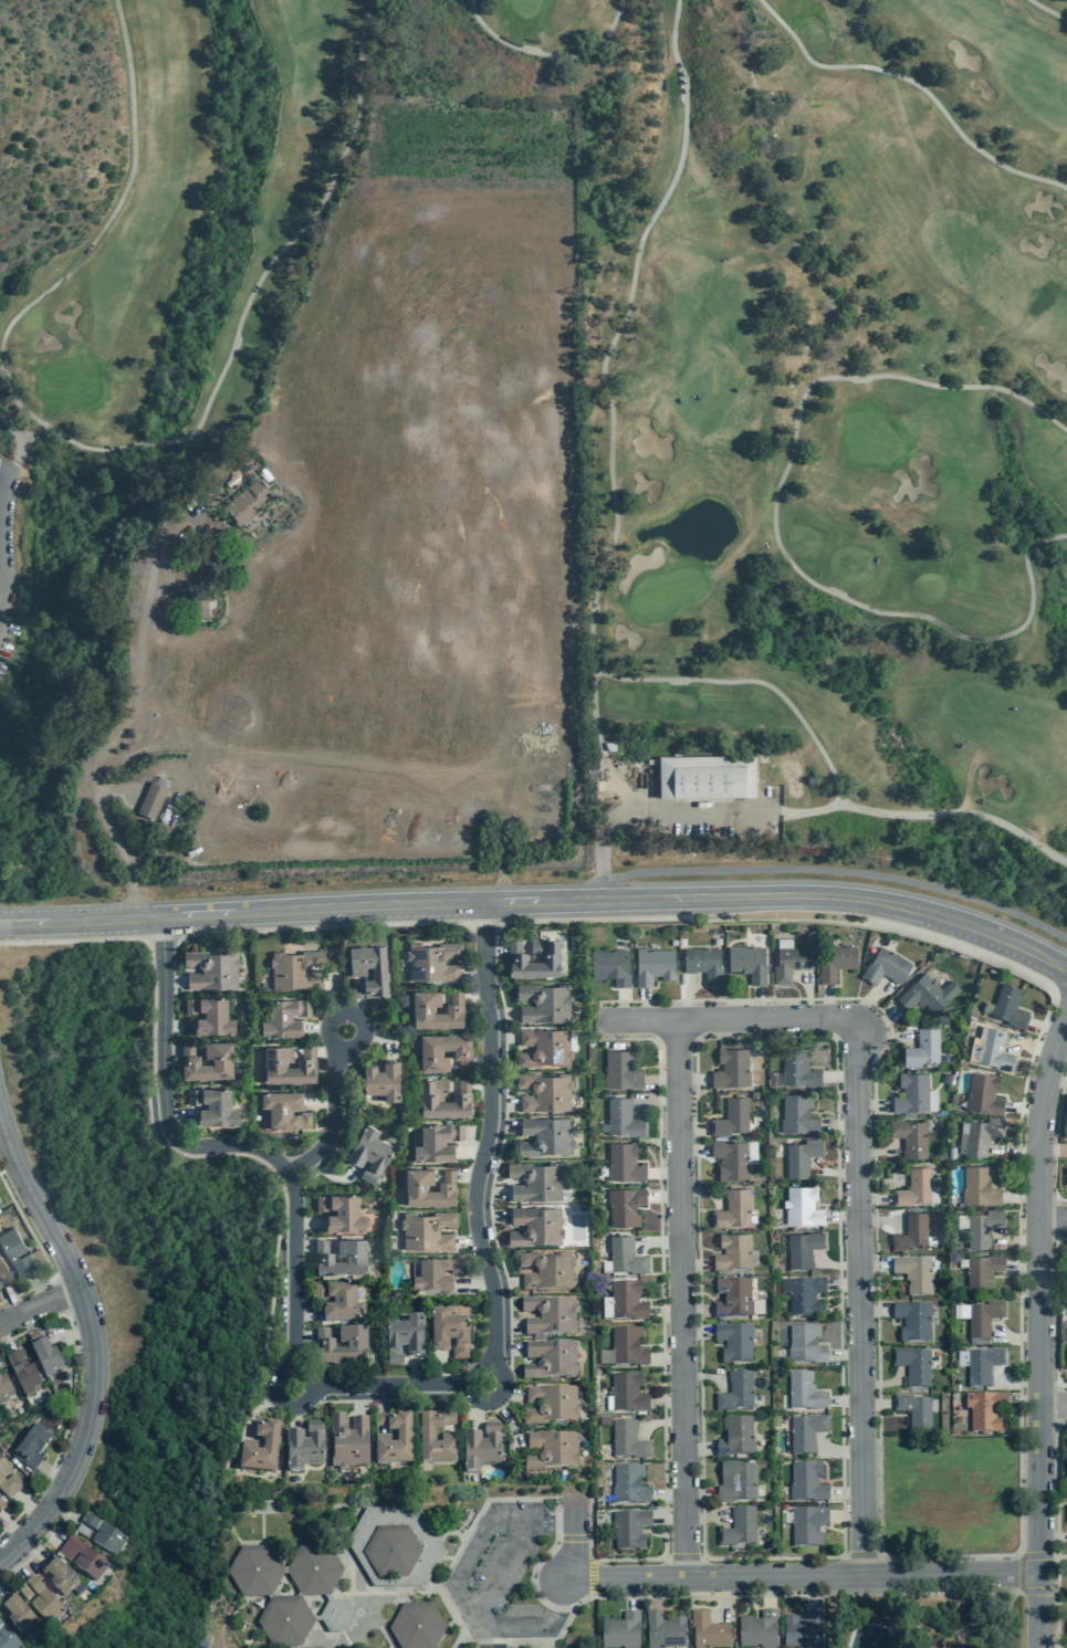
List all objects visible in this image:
road: (1047, 10)
road: (747, 50)
road: (553, 53)
road: (919, 81)
road: (22, 442)
park: (553, 450)
road: (115, 452)
road: (4, 459)
road: (12, 463)
road: (3, 472)
building: (248, 502)
road: (774, 524)
road: (1, 533)
road: (599, 597)
building: (199, 603)
building: (708, 777)
road: (624, 787)
building: (151, 800)
road: (681, 812)
road: (840, 872)
road: (540, 903)
road: (483, 922)
road: (322, 928)
road: (161, 941)
road: (505, 947)
building: (547, 957)
building: (432, 962)
building: (835, 962)
building: (749, 963)
building: (791, 963)
building: (704, 964)
building: (653, 965)
building: (611, 966)
building: (886, 967)
building: (211, 969)
building: (295, 969)
building: (357, 970)
road: (473, 970)
road: (174, 982)
road: (1059, 985)
road: (808, 991)
road: (1054, 991)
building: (928, 994)
road: (687, 995)
road: (336, 996)
road: (358, 998)
road: (464, 998)
road: (868, 999)
building: (545, 1003)
road: (827, 1003)
road: (759, 1004)
road: (624, 1005)
road: (645, 1005)
building: (1010, 1007)
building: (422, 1009)
road: (502, 1015)
building: (210, 1016)
building: (284, 1018)
road: (879, 1018)
road: (735, 1019)
road: (600, 1020)
road: (604, 1020)
road: (175, 1026)
road: (316, 1028)
road: (1044, 1028)
road: (886, 1037)
road: (362, 1038)
road: (503, 1038)
road: (383, 1039)
road: (1029, 1043)
building: (545, 1048)
building: (922, 1048)
building: (991, 1049)
road: (170, 1051)
road: (317, 1052)
road: (1060, 1052)
building: (430, 1053)
building: (222, 1061)
road: (342, 1063)
road: (471, 1064)
building: (287, 1066)
building: (732, 1069)
building: (798, 1069)
building: (621, 1071)
road: (839, 1077)
road: (692, 1079)
building: (383, 1080)
road: (1057, 1080)
road: (661, 1081)
road: (471, 1085)
building: (544, 1091)
road: (164, 1092)
building: (912, 1093)
building: (983, 1094)
building: (429, 1098)
road: (321, 1099)
road: (657, 1099)
road: (503, 1103)
road: (872, 1104)
building: (213, 1106)
road: (1024, 1109)
building: (285, 1110)
building: (797, 1115)
road: (179, 1116)
building: (624, 1117)
building: (732, 1117)
road: (334, 1121)
road: (839, 1124)
road: (503, 1125)
road: (692, 1129)
road: (153, 1131)
road: (346, 1133)
building: (982, 1135)
building: (545, 1136)
building: (910, 1137)
road: (1056, 1138)
road: (469, 1140)
building: (437, 1142)
road: (3, 1145)
road: (470, 1150)
road: (692, 1151)
road: (1053, 1151)
road: (1013, 1152)
building: (369, 1153)
road: (879, 1153)
building: (802, 1157)
building: (731, 1158)
building: (624, 1163)
road: (8, 1167)
road: (663, 1173)
road: (833, 1173)
road: (457, 1176)
road: (338, 1178)
building: (535, 1182)
building: (1066, 1183)
road: (296, 1184)
building: (979, 1186)
building: (416, 1187)
building: (914, 1187)
road: (490, 1192)
road: (702, 1193)
road: (665, 1196)
road: (874, 1197)
road: (1021, 1197)
building: (0, 1205)
building: (625, 1206)
building: (802, 1206)
building: (733, 1208)
building: (342, 1213)
road: (841, 1215)
road: (490, 1216)
road: (1053, 1219)
road: (880, 1220)
road: (307, 1224)
road: (1019, 1225)
building: (536, 1226)
building: (982, 1228)
building: (428, 1230)
building: (911, 1232)
road: (468, 1241)
road: (655, 1242)
road: (1013, 1242)
road: (314, 1247)
building: (803, 1249)
road: (40, 1251)
building: (15, 1252)
building: (733, 1253)
building: (625, 1257)
building: (356, 1258)
road: (833, 1264)
road: (1022, 1264)
road: (872, 1266)
road: (694, 1267)
building: (546, 1270)
building: (3, 1272)
park: (143, 1272)
building: (913, 1273)
building: (982, 1273)
building: (435, 1276)
road: (503, 1282)
road: (472, 1283)
road: (843, 1283)
road: (38, 1288)
building: (805, 1297)
building: (732, 1298)
road: (680, 1299)
road: (10, 1300)
building: (626, 1300)
road: (858, 1302)
road: (39, 1303)
building: (339, 1303)
road: (665, 1311)
road: (872, 1311)
road: (1057, 1311)
road: (305, 1314)
building: (550, 1314)
building: (983, 1318)
building: (912, 1321)
road: (508, 1326)
road: (1038, 1330)
road: (494, 1332)
road: (695, 1332)
building: (449, 1334)
road: (71, 1335)
road: (313, 1336)
road: (1013, 1337)
road: (662, 1339)
building: (404, 1340)
road: (4, 1341)
building: (734, 1342)
building: (805, 1344)
road: (92, 1345)
building: (356, 1346)
building: (627, 1346)
road: (506, 1347)
road: (844, 1355)
building: (44, 1357)
road: (666, 1357)
building: (551, 1360)
road: (279, 1366)
building: (912, 1366)
building: (983, 1366)
road: (439, 1368)
road: (414, 1369)
building: (22, 1373)
road: (703, 1376)
road: (883, 1383)
road: (1013, 1385)
building: (4, 1389)
building: (804, 1392)
building: (627, 1393)
building: (735, 1393)
road: (511, 1394)
road: (464, 1395)
road: (496, 1395)
road: (71, 1398)
road: (314, 1398)
road: (359, 1398)
road: (389, 1399)
road: (279, 1400)
road: (845, 1400)
road: (1023, 1400)
road: (667, 1403)
road: (874, 1404)
road: (1056, 1404)
building: (551, 1405)
road: (1053, 1405)
road: (448, 1407)
road: (381, 1408)
building: (913, 1410)
building: (984, 1410)
road: (257, 1413)
road: (474, 1413)
road: (294, 1416)
road: (508, 1421)
road: (658, 1423)
building: (806, 1432)
building: (735, 1438)
building: (426, 1439)
building: (627, 1440)
building: (348, 1441)
building: (396, 1442)
building: (248, 1446)
building: (31, 1448)
road: (697, 1448)
building: (302, 1450)
road: (835, 1450)
building: (552, 1451)
building: (480, 1452)
road: (52, 1473)
building: (8, 1481)
building: (735, 1482)
building: (807, 1482)
building: (628, 1484)
road: (668, 1492)
road: (846, 1493)
road: (31, 1508)
road: (63, 1512)
road: (668, 1512)
road: (704, 1516)
road: (846, 1516)
building: (807, 1526)
building: (739, 1528)
road: (10, 1529)
building: (630, 1530)
building: (82, 1531)
road: (1055, 1532)
road: (46, 1534)
building: (104, 1535)
road: (1053, 1536)
road: (572, 1537)
road: (574, 1537)
building: (394, 1546)
road: (843, 1547)
road: (33, 1550)
park: (941, 1550)
road: (35, 1551)
road: (1018, 1553)
road: (862, 1555)
road: (683, 1556)
road: (0, 1557)
building: (83, 1558)
road: (1053, 1562)
road: (12, 1567)
road: (500, 1568)
road: (1019, 1573)
parking lot: (498, 1574)
road: (805, 1575)
building: (59, 1576)
road: (592, 1577)
road: (568, 1578)
road: (458, 1587)
road: (767, 1591)
road: (813, 1591)
road: (629, 1592)
road: (652, 1592)
building: (24, 1593)
road: (1018, 1593)
road: (1, 1594)
road: (441, 1594)
building: (257, 1595)
road: (718, 1596)
road: (725, 1599)
building: (43, 1603)
road: (1053, 1605)
road: (910, 1613)
building: (17, 1615)
road: (987, 1615)
building: (416, 1626)
building: (803, 1629)
building: (757, 1630)
building: (620, 1631)
building: (663, 1631)
building: (708, 1631)
building: (8, 1639)

